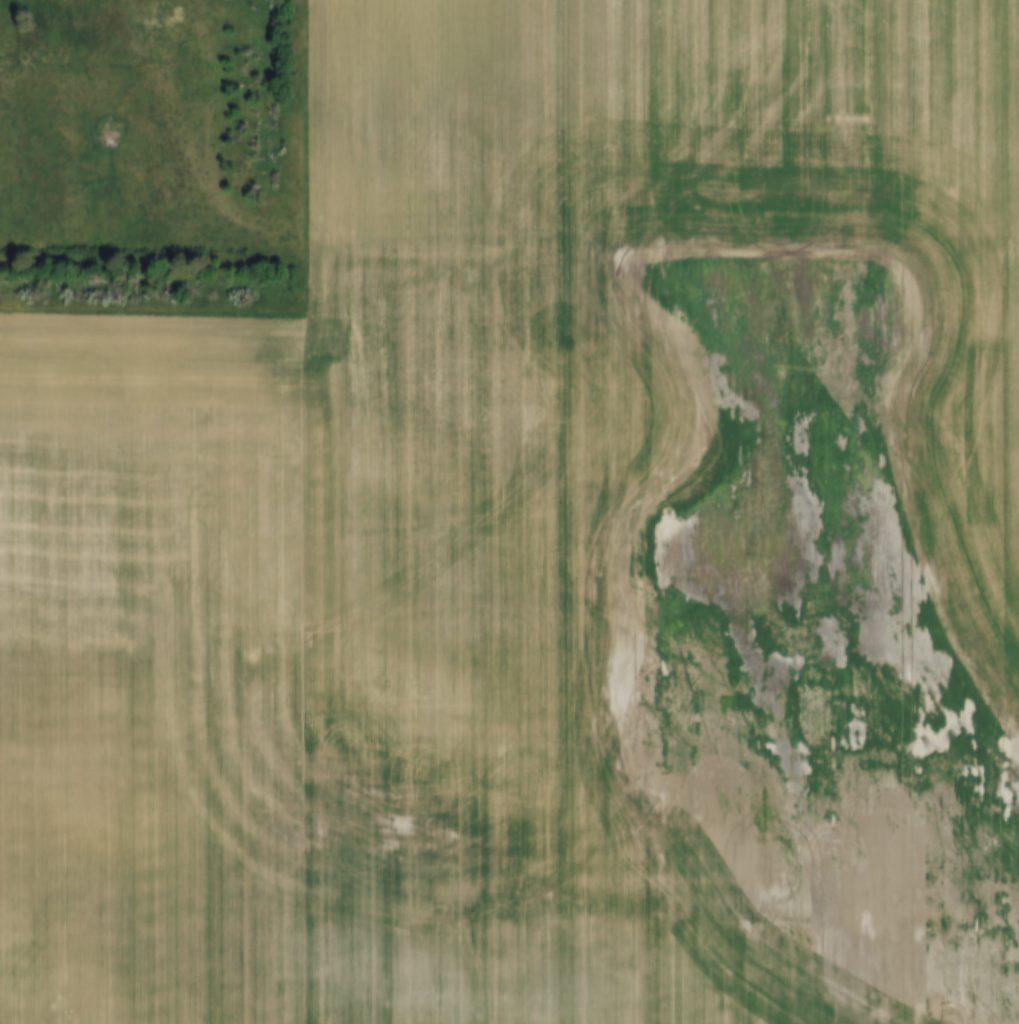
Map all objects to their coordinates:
road: (499, 241)

